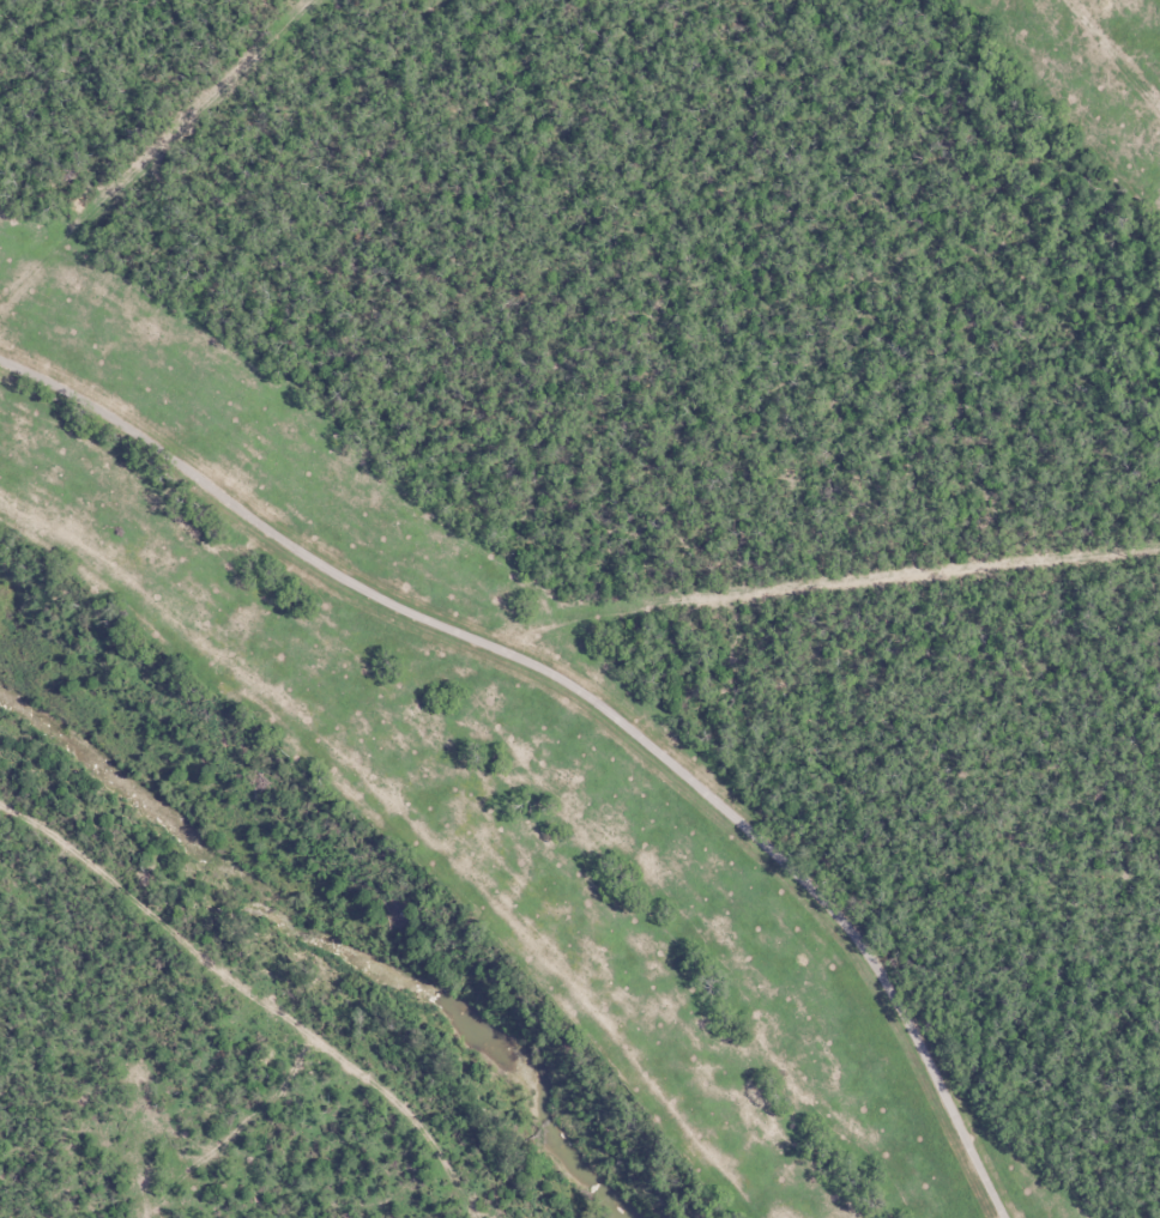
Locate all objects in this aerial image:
road: (566, 731)
river: (332, 946)

